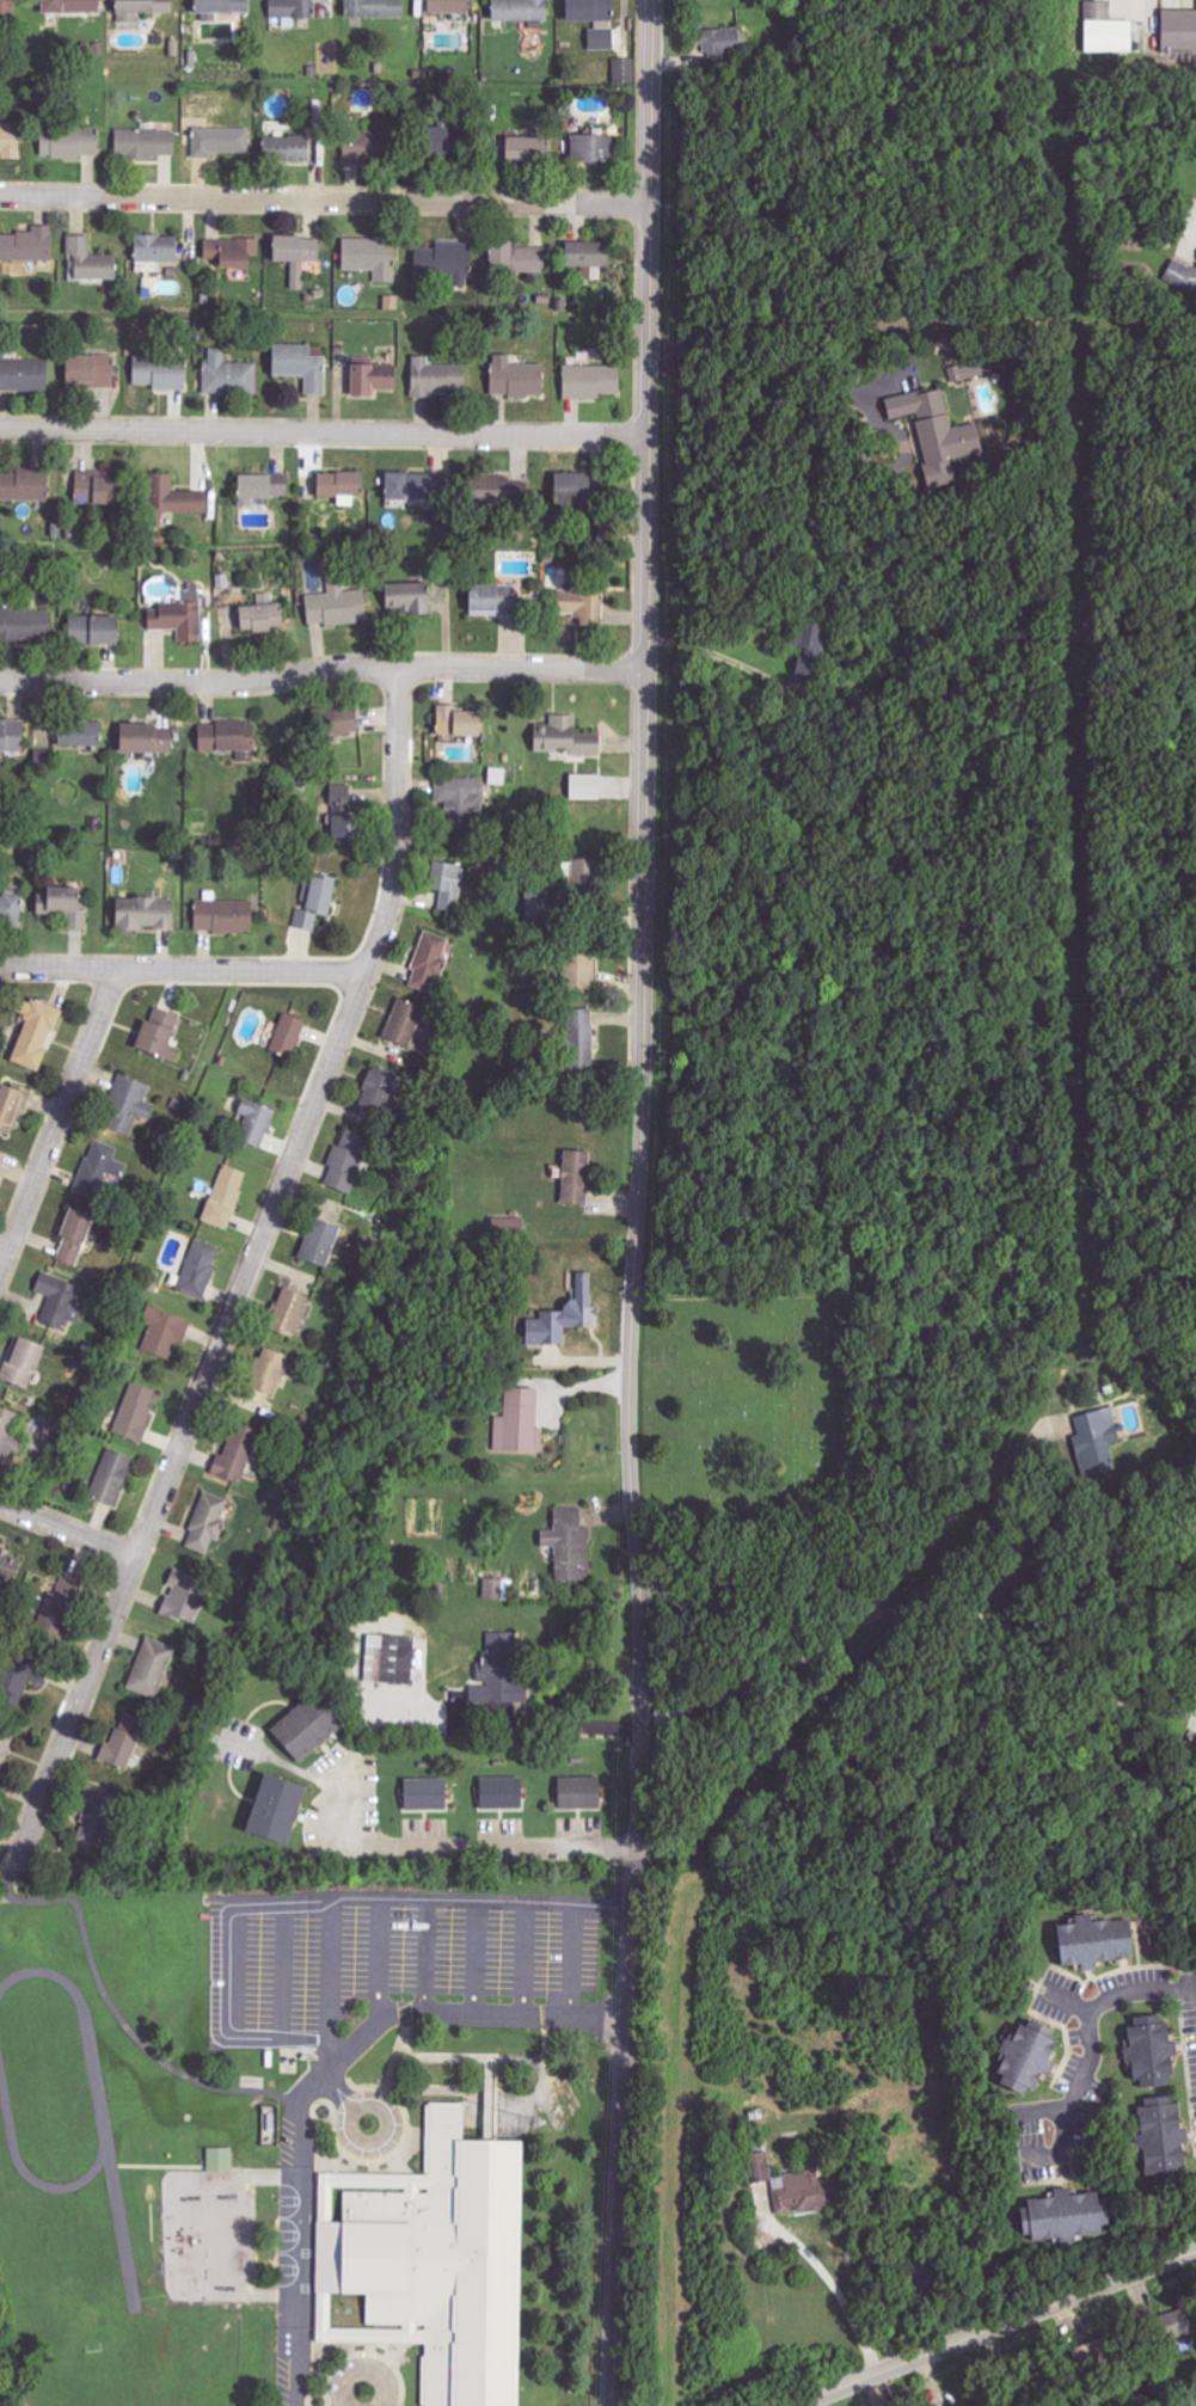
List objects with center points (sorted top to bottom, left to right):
building: (0, 4)
building: (69, 6)
building: (446, 7)
building: (140, 8)
building: (219, 8)
building: (373, 10)
building: (290, 11)
building: (520, 11)
building: (593, 20)
building: (1106, 30)
building: (1178, 31)
building: (719, 39)
building: (624, 70)
building: (219, 140)
building: (68, 141)
building: (145, 142)
building: (360, 146)
building: (286, 147)
building: (590, 148)
road: (321, 198)
road: (1194, 241)
building: (27, 244)
building: (154, 248)
building: (231, 251)
building: (295, 253)
building: (584, 253)
building: (370, 257)
building: (515, 257)
building: (88, 259)
building: (453, 259)
building: (1190, 278)
building: (299, 366)
building: (92, 370)
building: (965, 370)
building: (160, 373)
building: (23, 374)
building: (229, 375)
building: (436, 376)
building: (372, 378)
building: (514, 378)
building: (589, 380)
road: (778, 397)
road: (321, 429)
building: (936, 431)
building: (338, 484)
building: (25, 485)
building: (411, 485)
building: (260, 486)
building: (569, 487)
building: (96, 489)
building: (493, 495)
building: (171, 498)
building: (406, 597)
building: (489, 600)
building: (577, 600)
building: (335, 604)
building: (259, 614)
building: (179, 615)
building: (25, 626)
building: (91, 628)
building: (810, 640)
road: (725, 668)
road: (321, 674)
building: (337, 720)
building: (455, 722)
building: (78, 732)
building: (11, 736)
building: (565, 737)
building: (145, 738)
building: (227, 739)
building: (584, 786)
building: (458, 792)
building: (341, 812)
building: (579, 873)
building: (447, 883)
building: (315, 902)
building: (534, 904)
building: (65, 907)
building: (10, 909)
building: (143, 913)
building: (223, 915)
building: (429, 962)
building: (577, 969)
road: (184, 970)
building: (401, 1023)
building: (35, 1032)
building: (158, 1035)
building: (287, 1036)
building: (579, 1037)
building: (378, 1087)
building: (125, 1105)
building: (11, 1107)
road: (61, 1123)
building: (253, 1123)
building: (344, 1160)
building: (99, 1168)
building: (575, 1177)
building: (225, 1196)
road: (638, 1203)
building: (508, 1226)
building: (73, 1236)
building: (318, 1242)
building: (198, 1268)
road: (249, 1273)
building: (60, 1301)
building: (286, 1312)
building: (564, 1316)
building: (164, 1332)
building: (22, 1362)
building: (266, 1371)
park: (738, 1403)
building: (135, 1412)
building: (519, 1423)
building: (6, 1432)
building: (1096, 1438)
building: (234, 1454)
building: (111, 1477)
building: (206, 1522)
road: (69, 1526)
building: (569, 1545)
building: (7, 1565)
building: (498, 1589)
building: (183, 1596)
building: (53, 1608)
road: (878, 1616)
building: (390, 1659)
building: (151, 1668)
building: (497, 1674)
building: (14, 1682)
road: (1013, 1707)
road: (526, 1721)
building: (307, 1727)
building: (124, 1741)
building: (5, 1743)
building: (501, 1793)
building: (578, 1793)
building: (423, 1794)
building: (274, 1810)
building: (94, 1816)
road: (458, 1843)
road: (10, 1878)
road: (398, 1905)
building: (1092, 1942)
road: (430, 1960)
road: (385, 1963)
road: (480, 1963)
road: (529, 1964)
road: (578, 1965)
road: (290, 1970)
road: (235, 1971)
road: (1072, 2005)
road: (467, 2015)
parking lot: (388, 2018)
road: (124, 2020)
road: (1091, 2045)
building: (1149, 2049)
building: (1023, 2056)
road: (341, 2088)
road: (1049, 2112)
building: (1160, 2136)
road: (386, 2141)
building: (220, 2159)
building: (759, 2165)
building: (803, 2192)
building: (1066, 2215)
road: (302, 2233)
building: (433, 2260)
road: (840, 2289)
building: (1172, 2324)
road: (994, 2326)
road: (368, 2365)
parking lot: (369, 2380)

